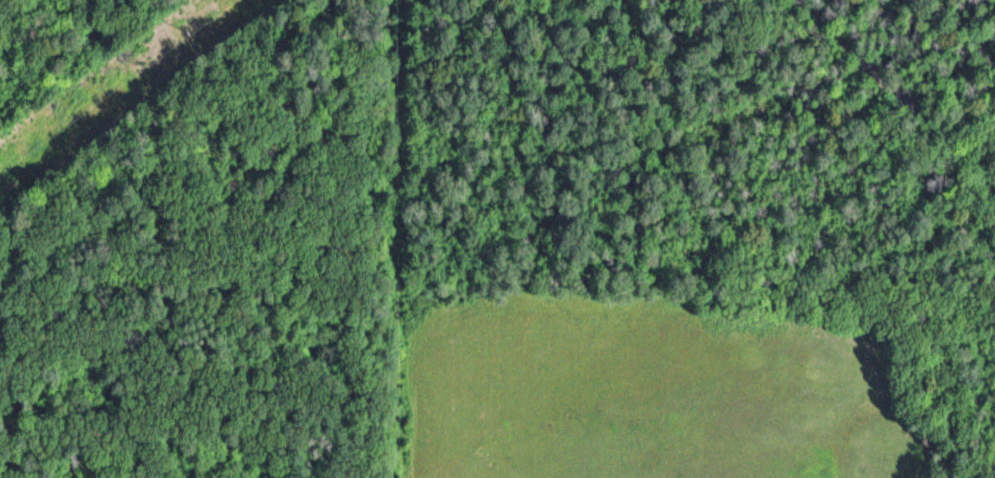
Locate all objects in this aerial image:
road: (890, 96)

